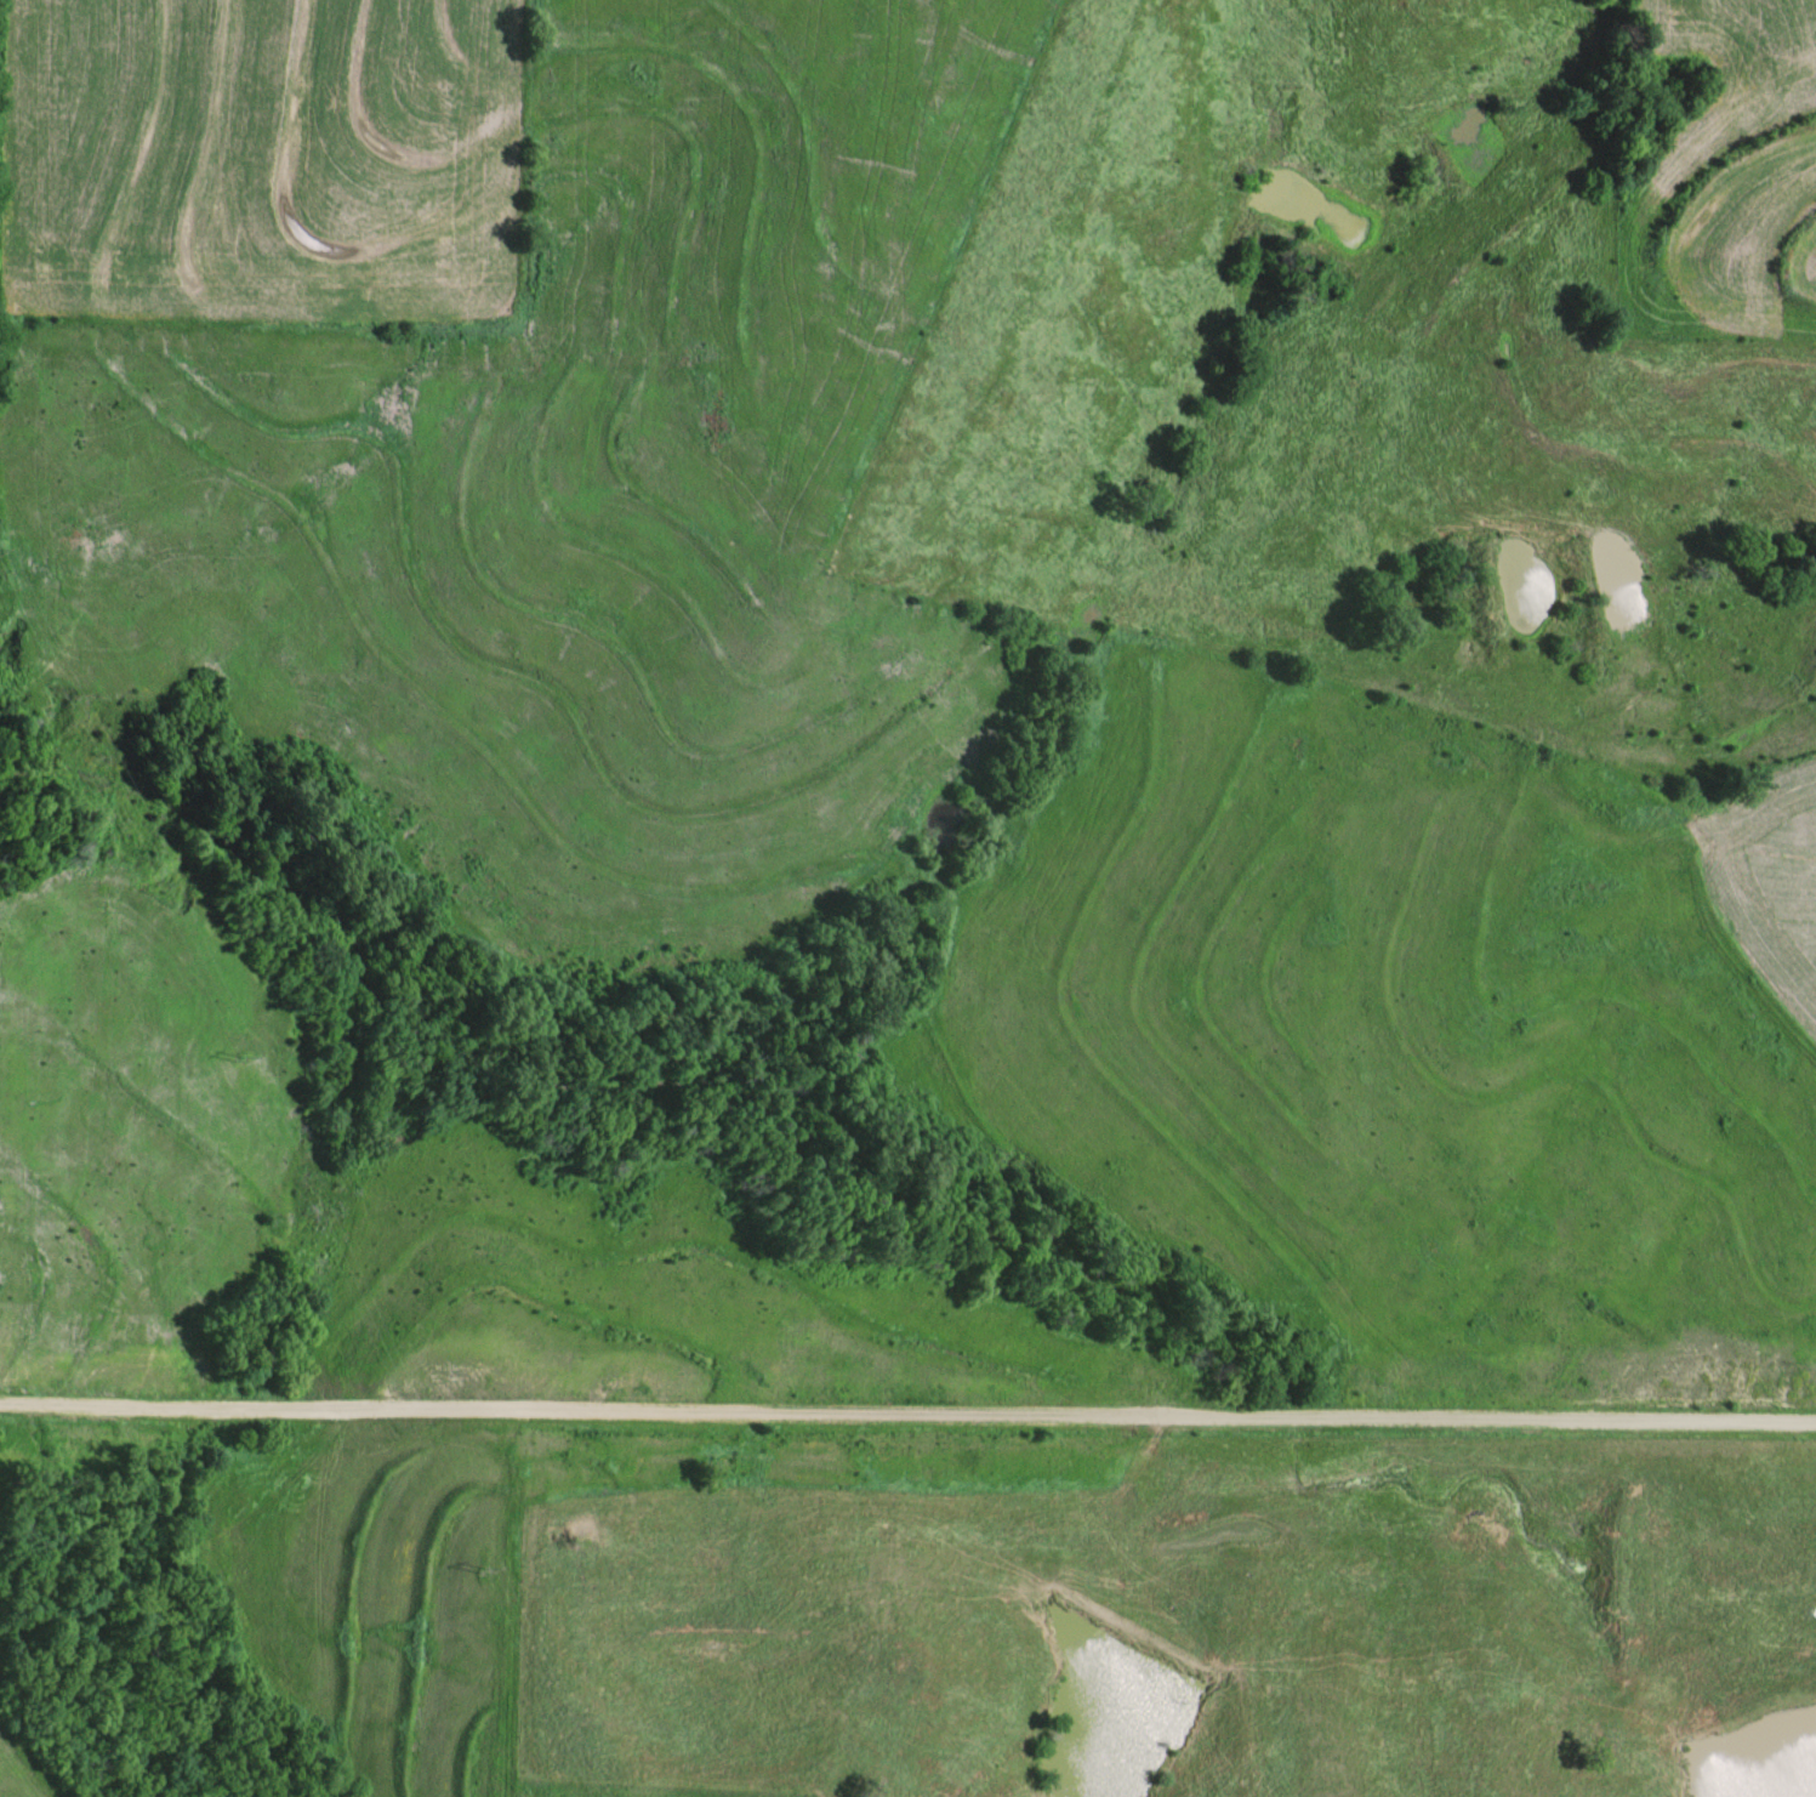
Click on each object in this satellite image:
road: (907, 1414)

